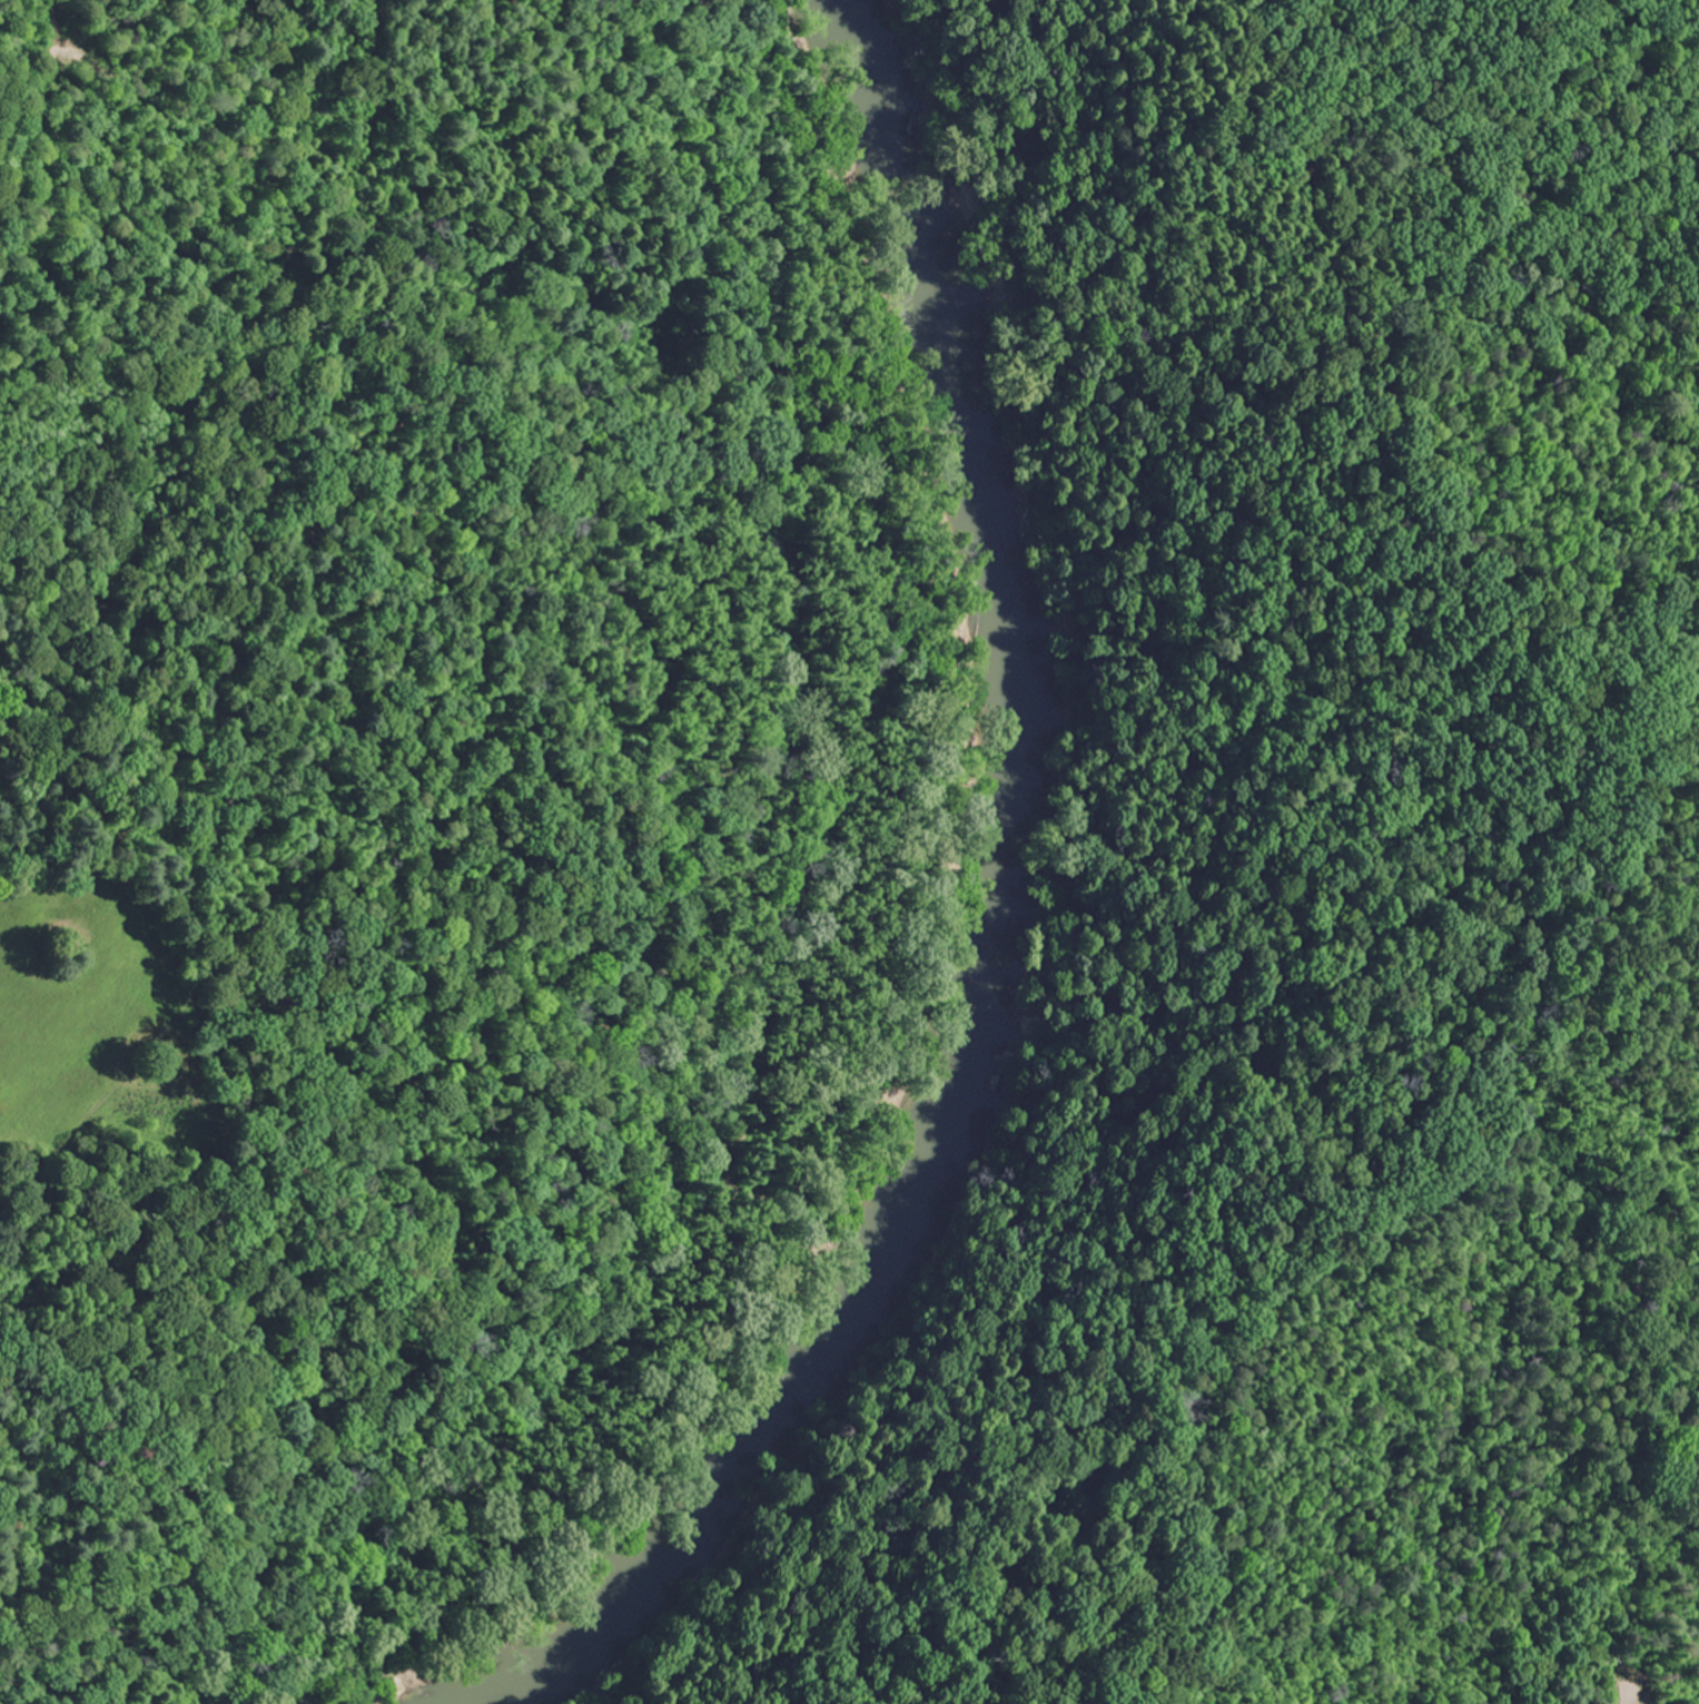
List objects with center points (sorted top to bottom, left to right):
river: (994, 928)

